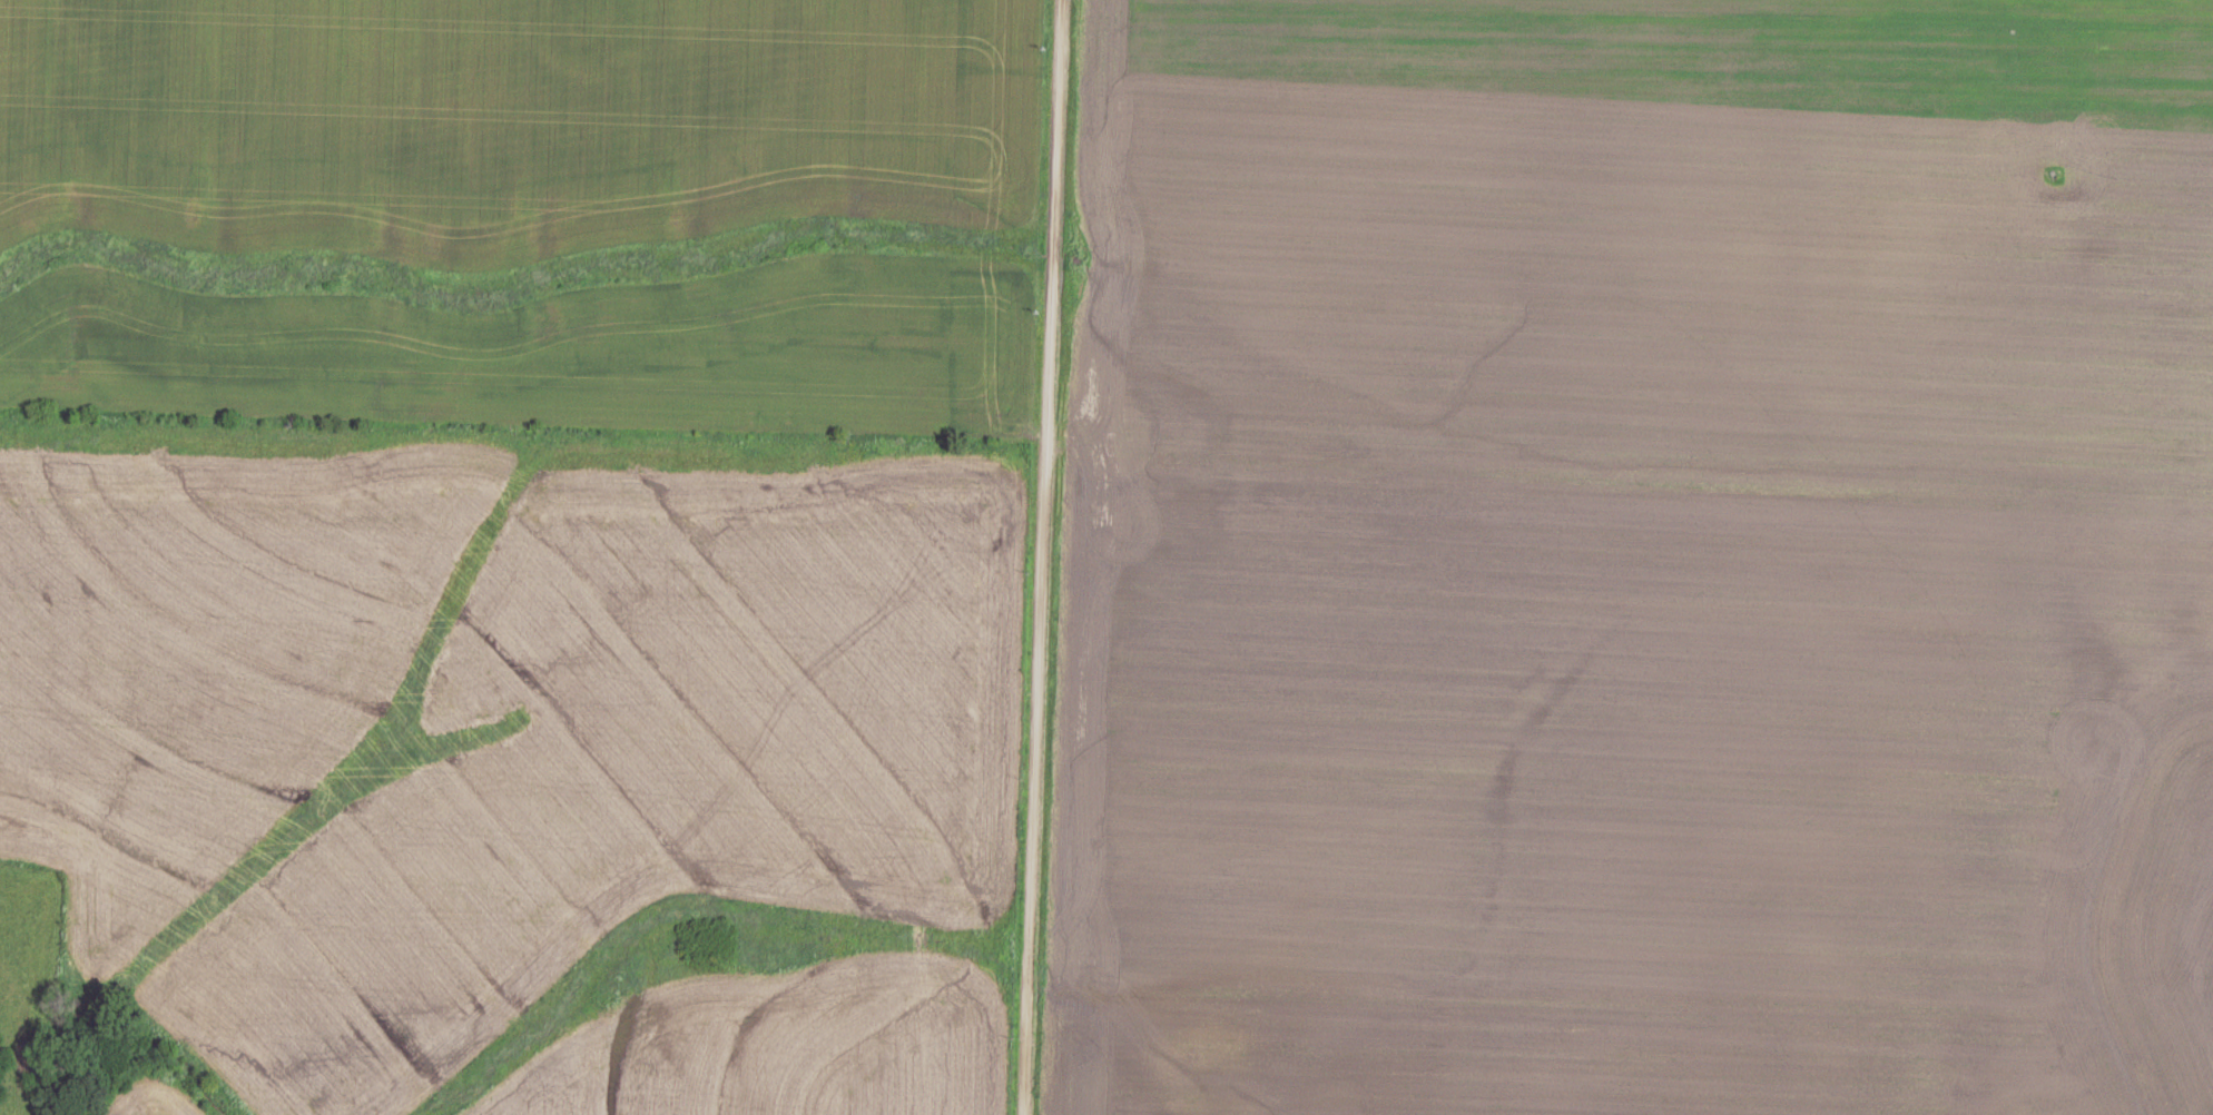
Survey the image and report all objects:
crop: (530, 214)
road: (1029, 557)
crop: (1635, 560)
crop: (528, 761)

